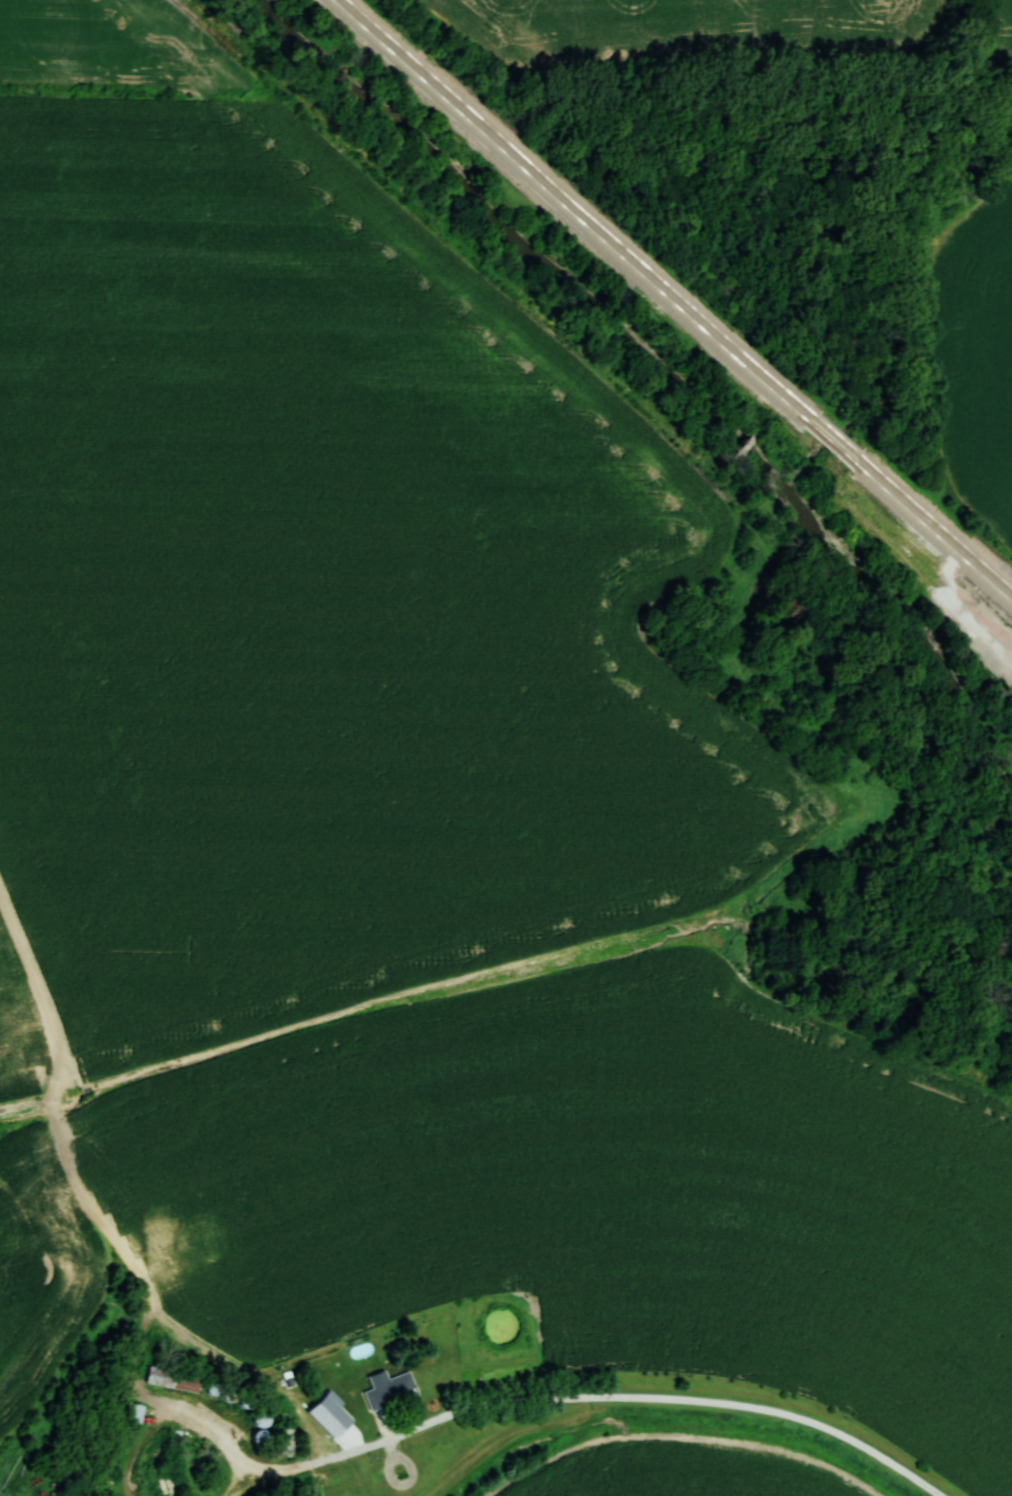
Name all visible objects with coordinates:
railway: (581, 207)
railway: (568, 212)
railway: (838, 434)
railway: (834, 444)
railway: (936, 521)
railway: (934, 535)
building: (140, 1387)
building: (390, 1388)
road: (671, 1404)
building: (135, 1414)

